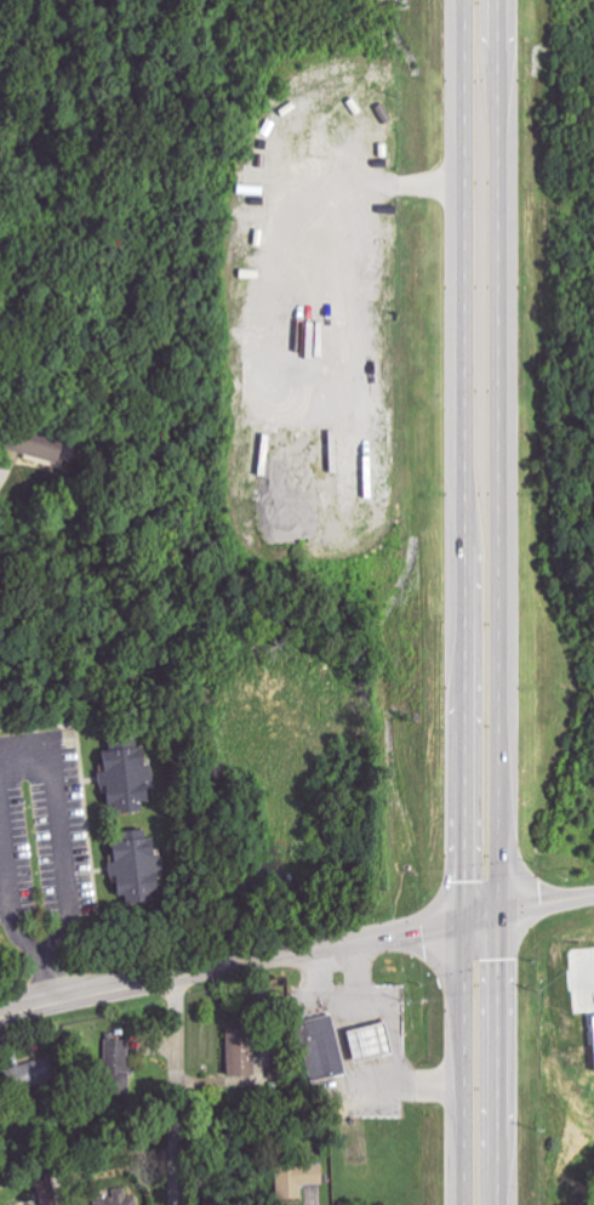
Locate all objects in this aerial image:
building: (381, 83)
building: (321, 142)
road: (354, 182)
building: (39, 443)
road: (2, 498)
road: (464, 602)
road: (496, 602)
building: (122, 777)
road: (63, 853)
building: (132, 868)
road: (8, 882)
road: (296, 955)
road: (314, 993)
building: (593, 1027)
building: (370, 1038)
building: (320, 1044)
building: (239, 1051)
road: (371, 1052)
building: (119, 1067)
building: (24, 1074)
road: (179, 1091)
building: (296, 1178)
building: (119, 1198)

